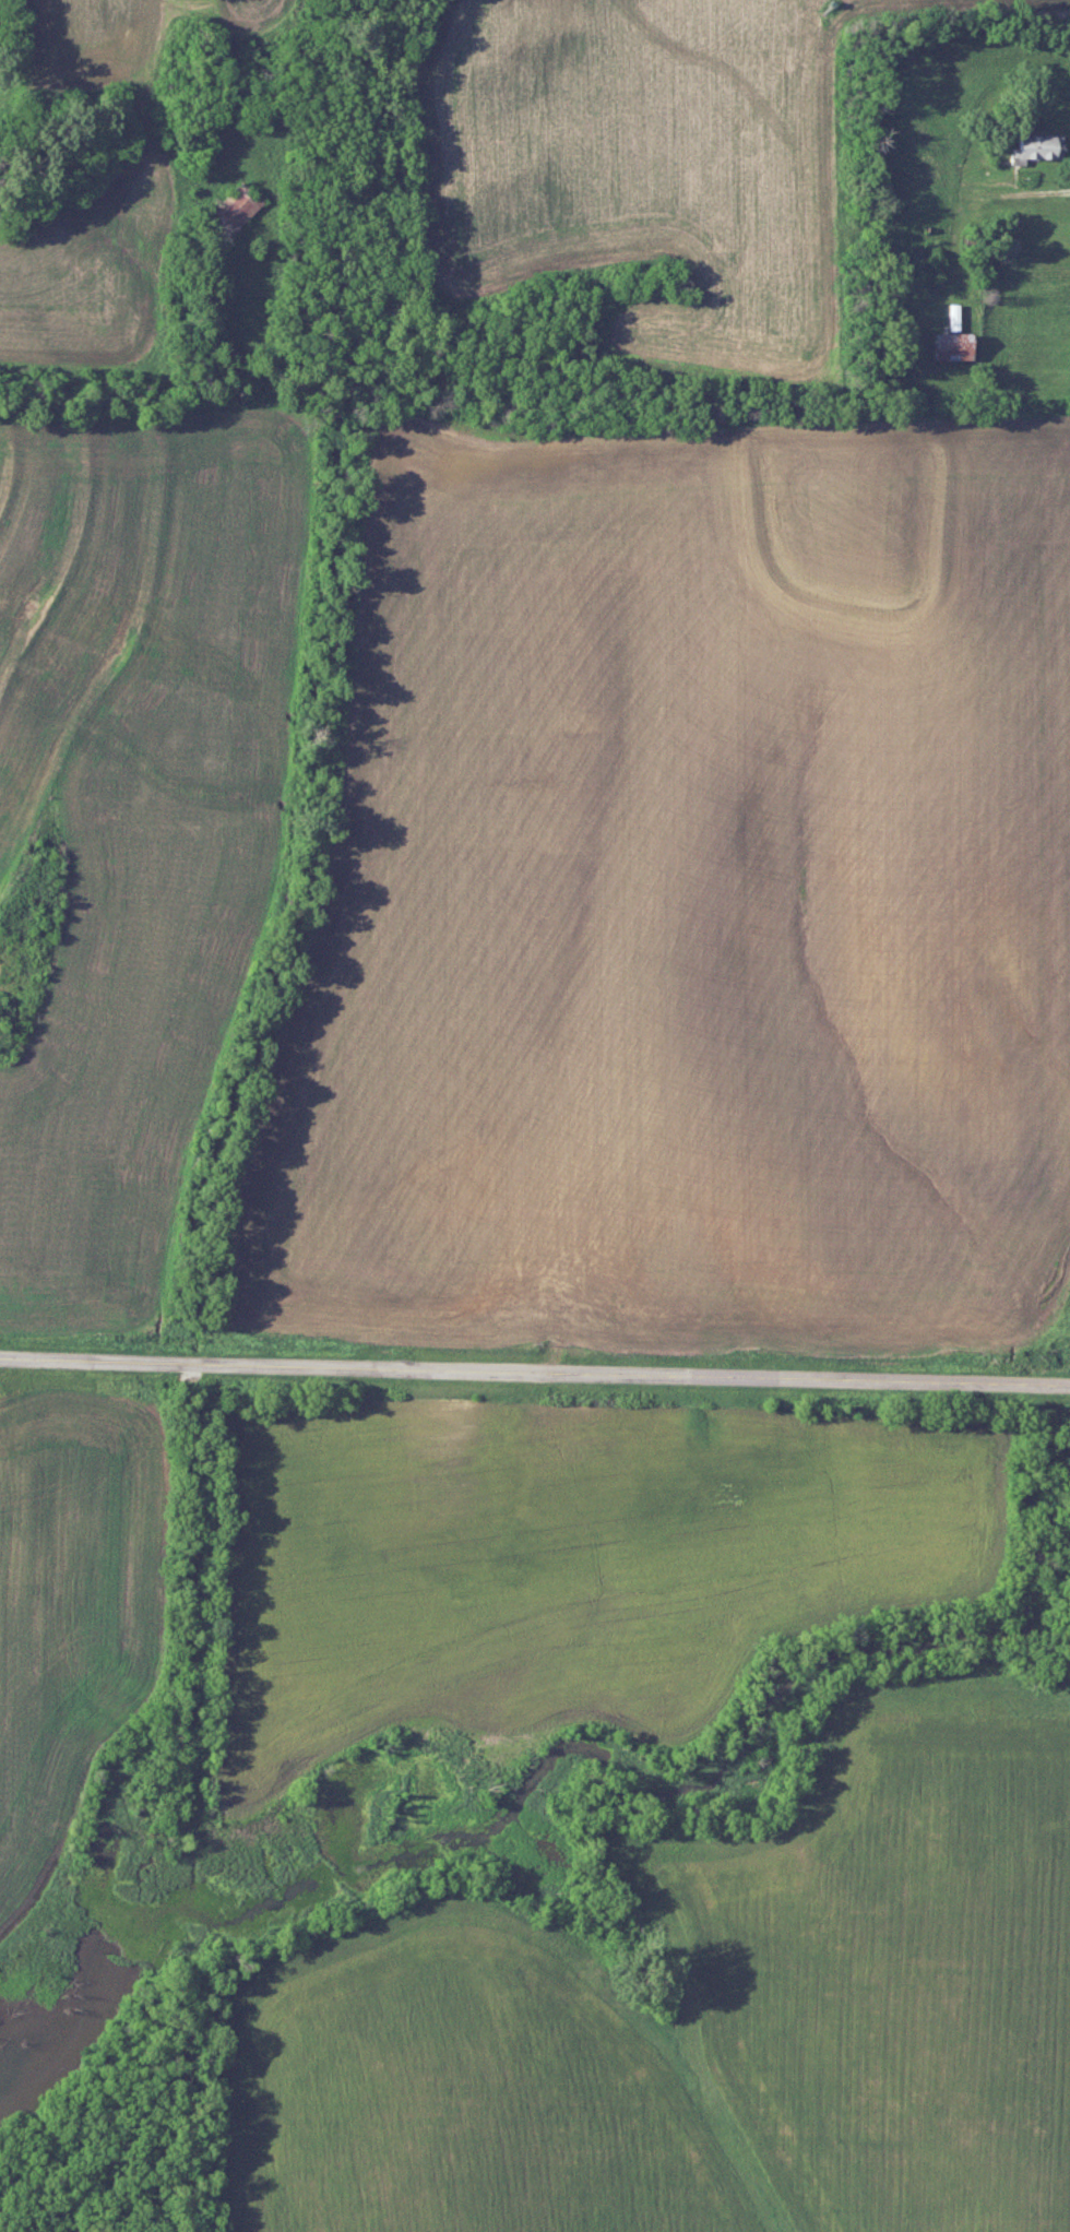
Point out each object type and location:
building: (1035, 146)
road: (1023, 195)
building: (237, 204)
building: (953, 345)
road: (534, 1370)

